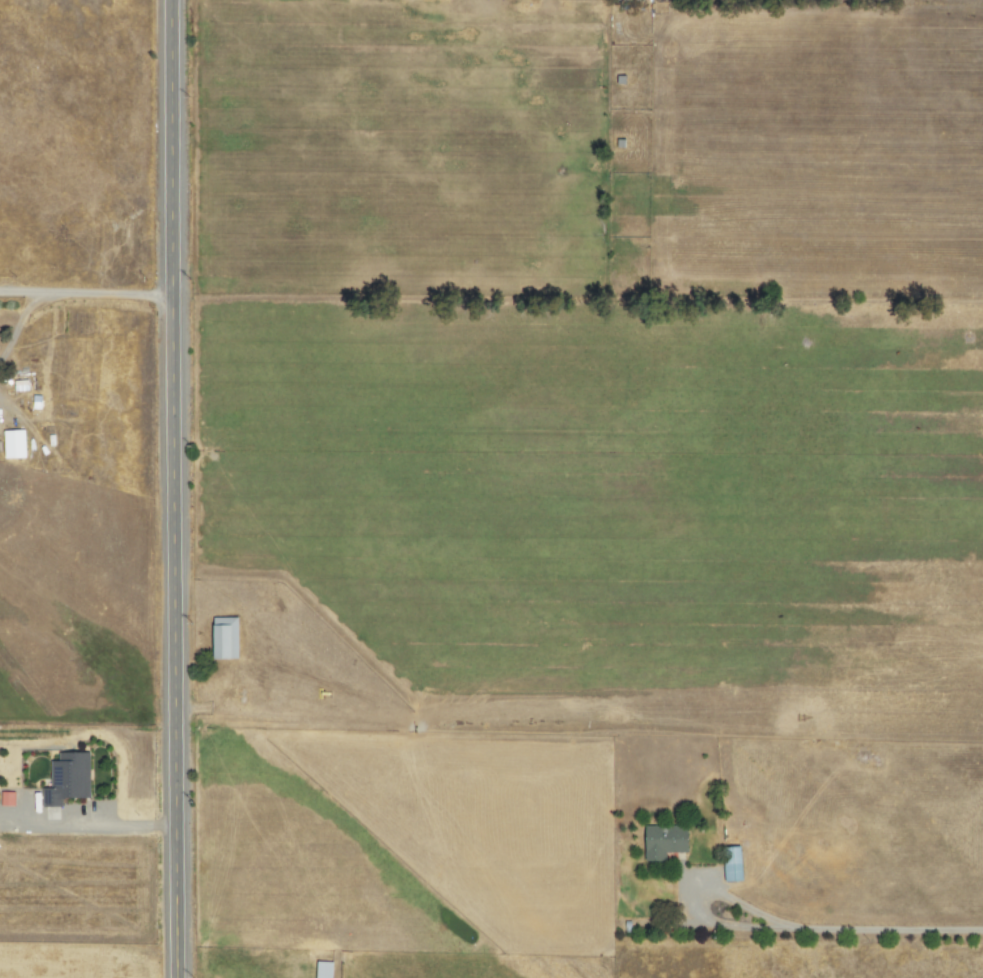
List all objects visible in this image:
building: (639, 1)
road: (85, 293)
building: (13, 444)
road: (170, 489)
building: (225, 638)
building: (67, 779)
building: (6, 799)
building: (663, 841)
building: (731, 864)
building: (323, 969)

